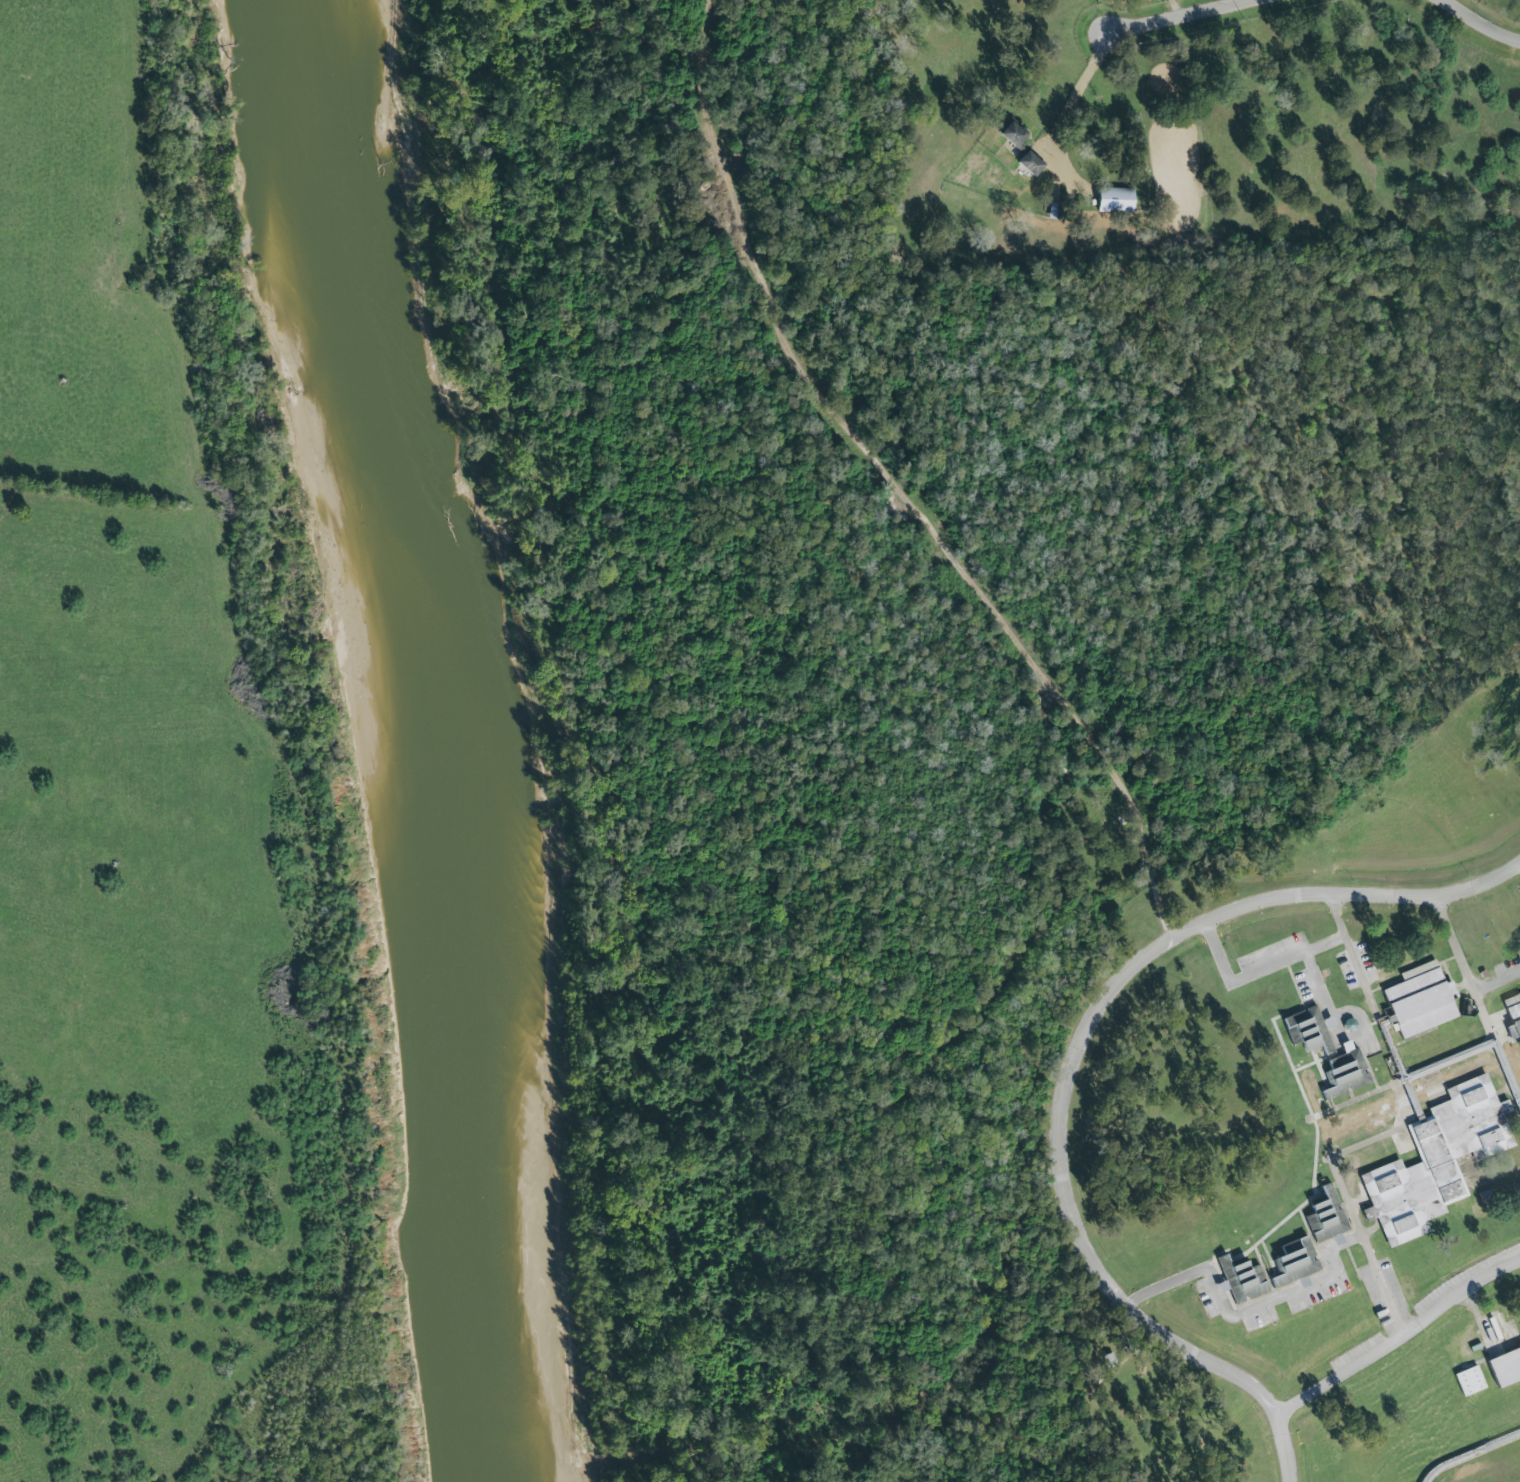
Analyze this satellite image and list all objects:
road: (1173, 16)
road: (1485, 21)
road: (1078, 90)
building: (1014, 133)
building: (1030, 163)
building: (1115, 200)
building: (1057, 211)
road: (881, 461)
river: (442, 736)
road: (1347, 895)
road: (1261, 972)
road: (1369, 987)
road: (1499, 987)
road: (1479, 997)
building: (1421, 1000)
building: (1513, 1016)
road: (1338, 1020)
building: (1350, 1025)
building: (1309, 1030)
building: (1346, 1073)
road: (1400, 1097)
road: (1309, 1124)
building: (1437, 1160)
building: (1327, 1218)
road: (1083, 1234)
building: (1295, 1263)
building: (1241, 1280)
road: (1253, 1310)
road: (1485, 1315)
road: (1400, 1336)
building: (1505, 1367)
building: (1470, 1381)
road: (1472, 1457)

